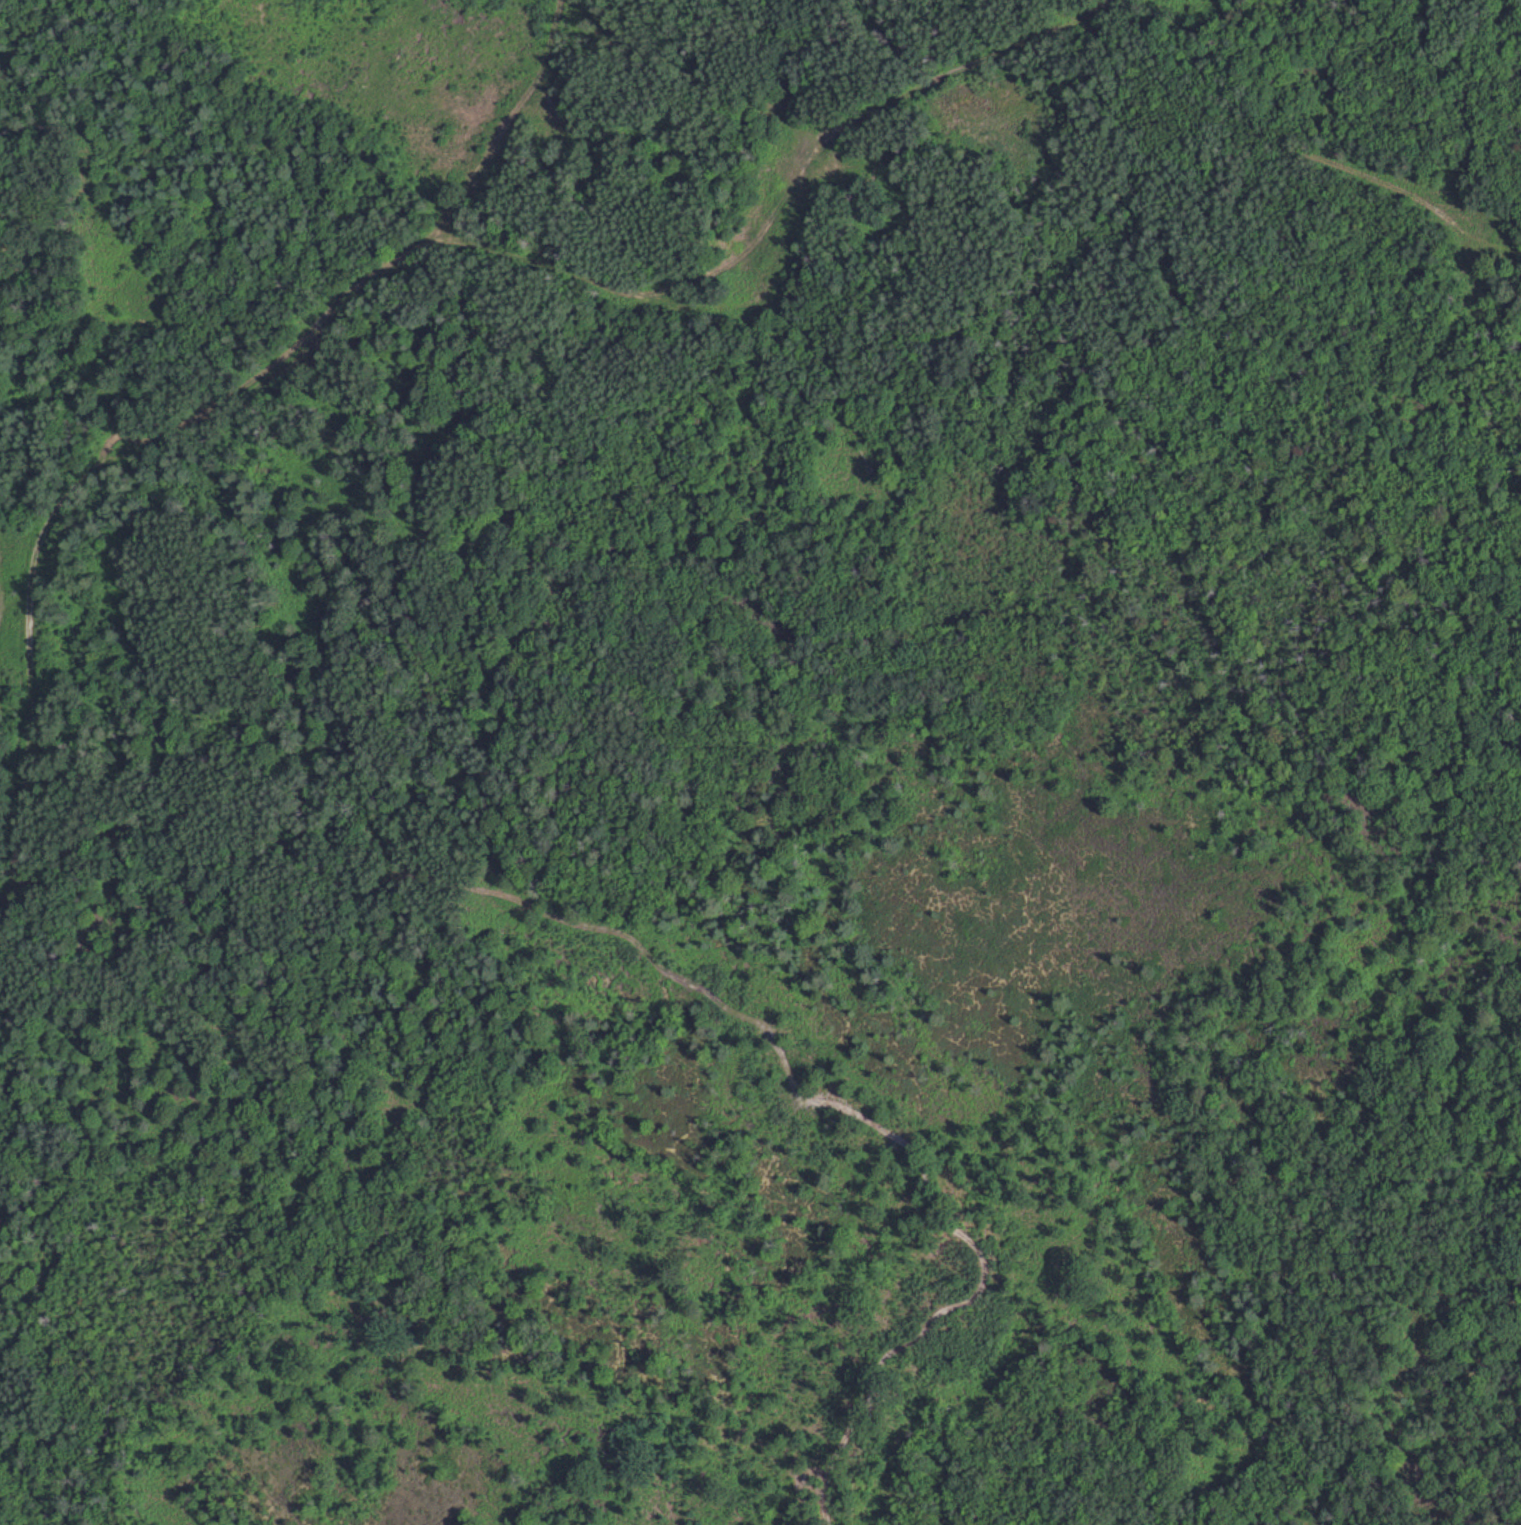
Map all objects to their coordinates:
road: (1081, 14)
road: (501, 134)
road: (635, 294)
road: (700, 985)

